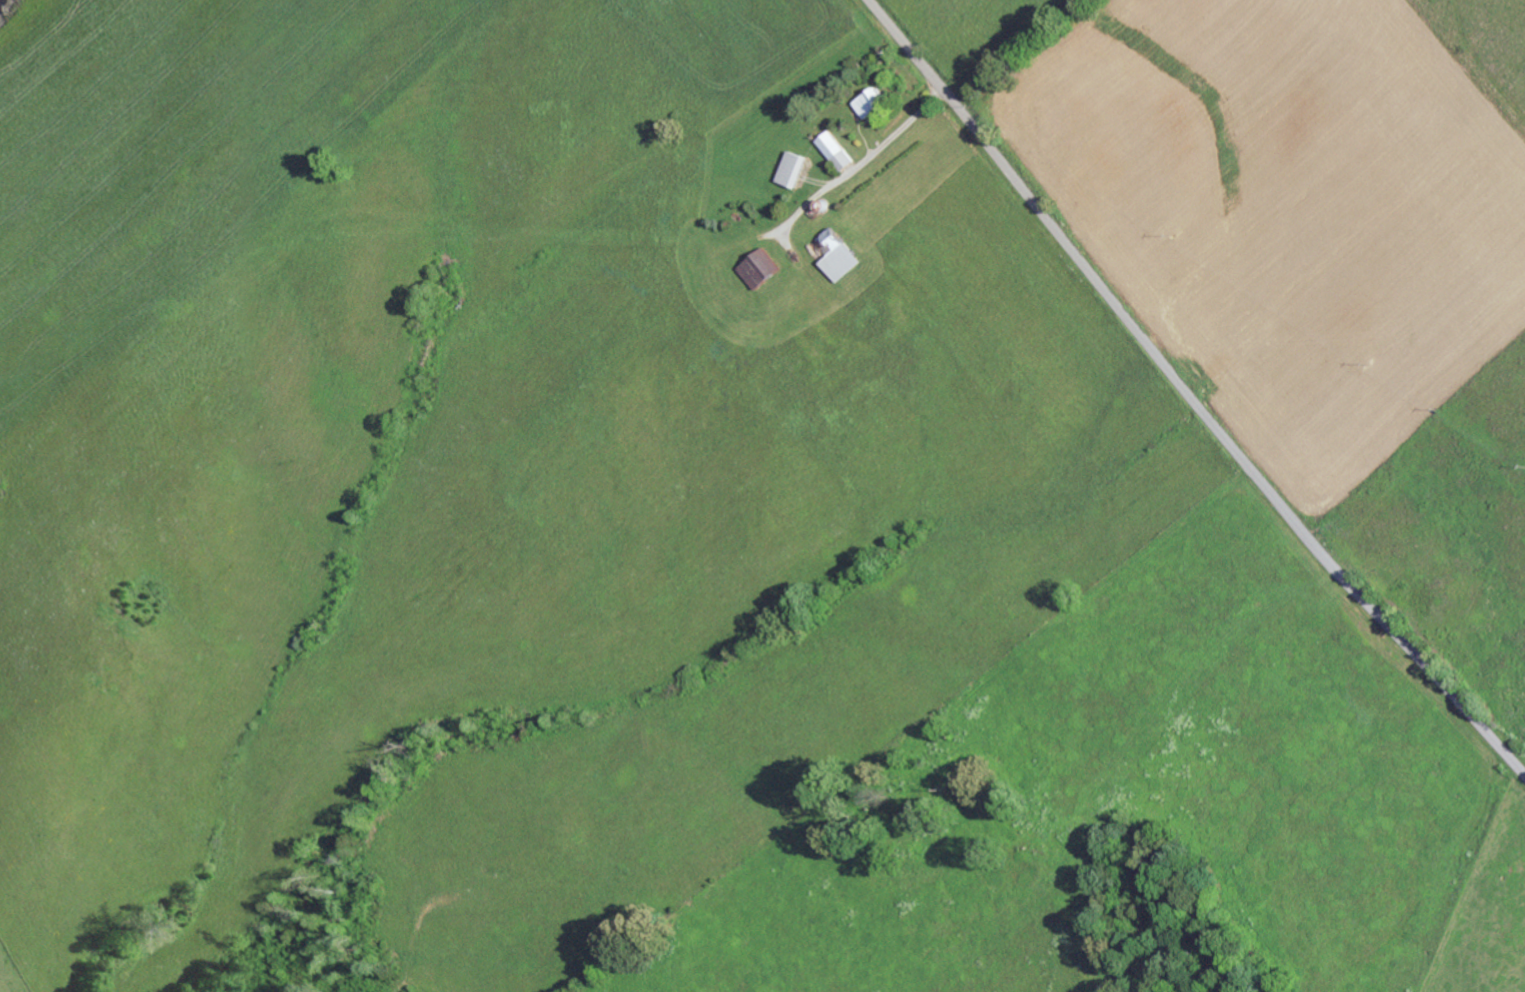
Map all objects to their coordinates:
building: (871, 103)
building: (836, 151)
building: (791, 169)
building: (841, 256)
building: (762, 269)
road: (1188, 394)

